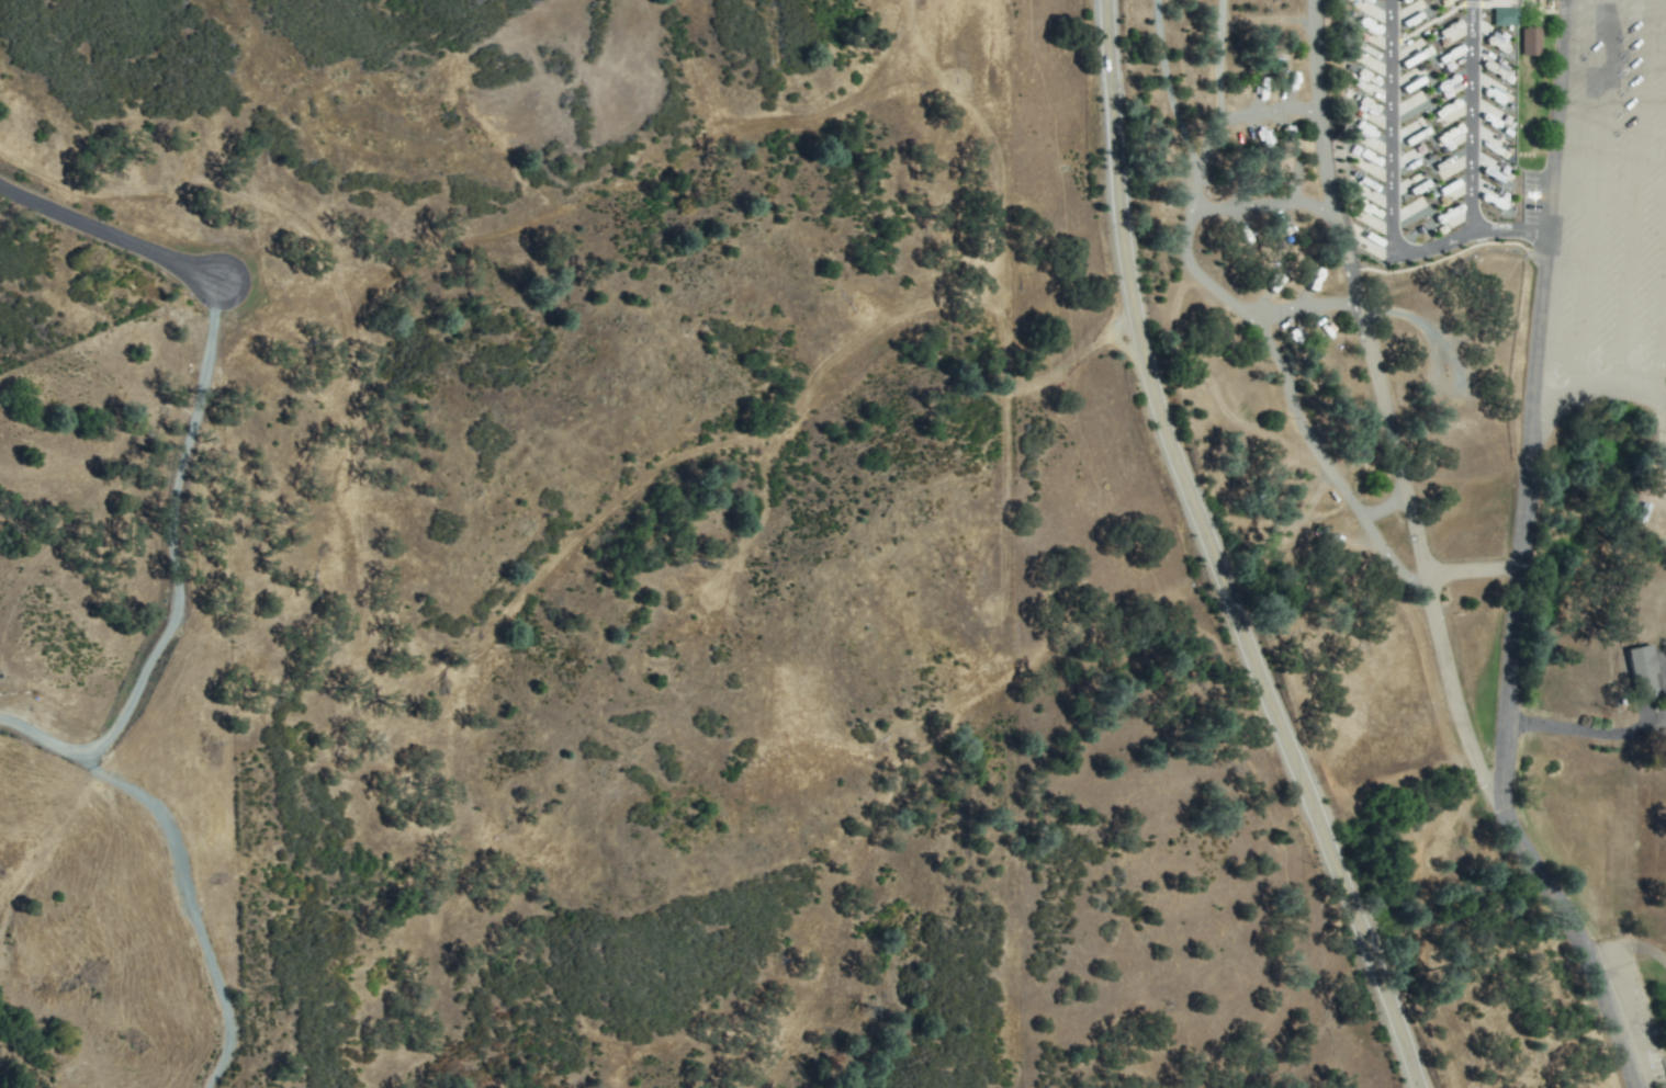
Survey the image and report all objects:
building: (1506, 16)
building: (1364, 56)
building: (1362, 79)
building: (1497, 98)
building: (1447, 168)
building: (1491, 199)
road: (1549, 205)
road: (108, 238)
building: (1325, 326)
road: (1598, 389)
road: (1219, 553)
road: (1425, 553)
road: (168, 575)
road: (1512, 602)
building: (1645, 668)
road: (189, 903)
road: (1632, 982)

